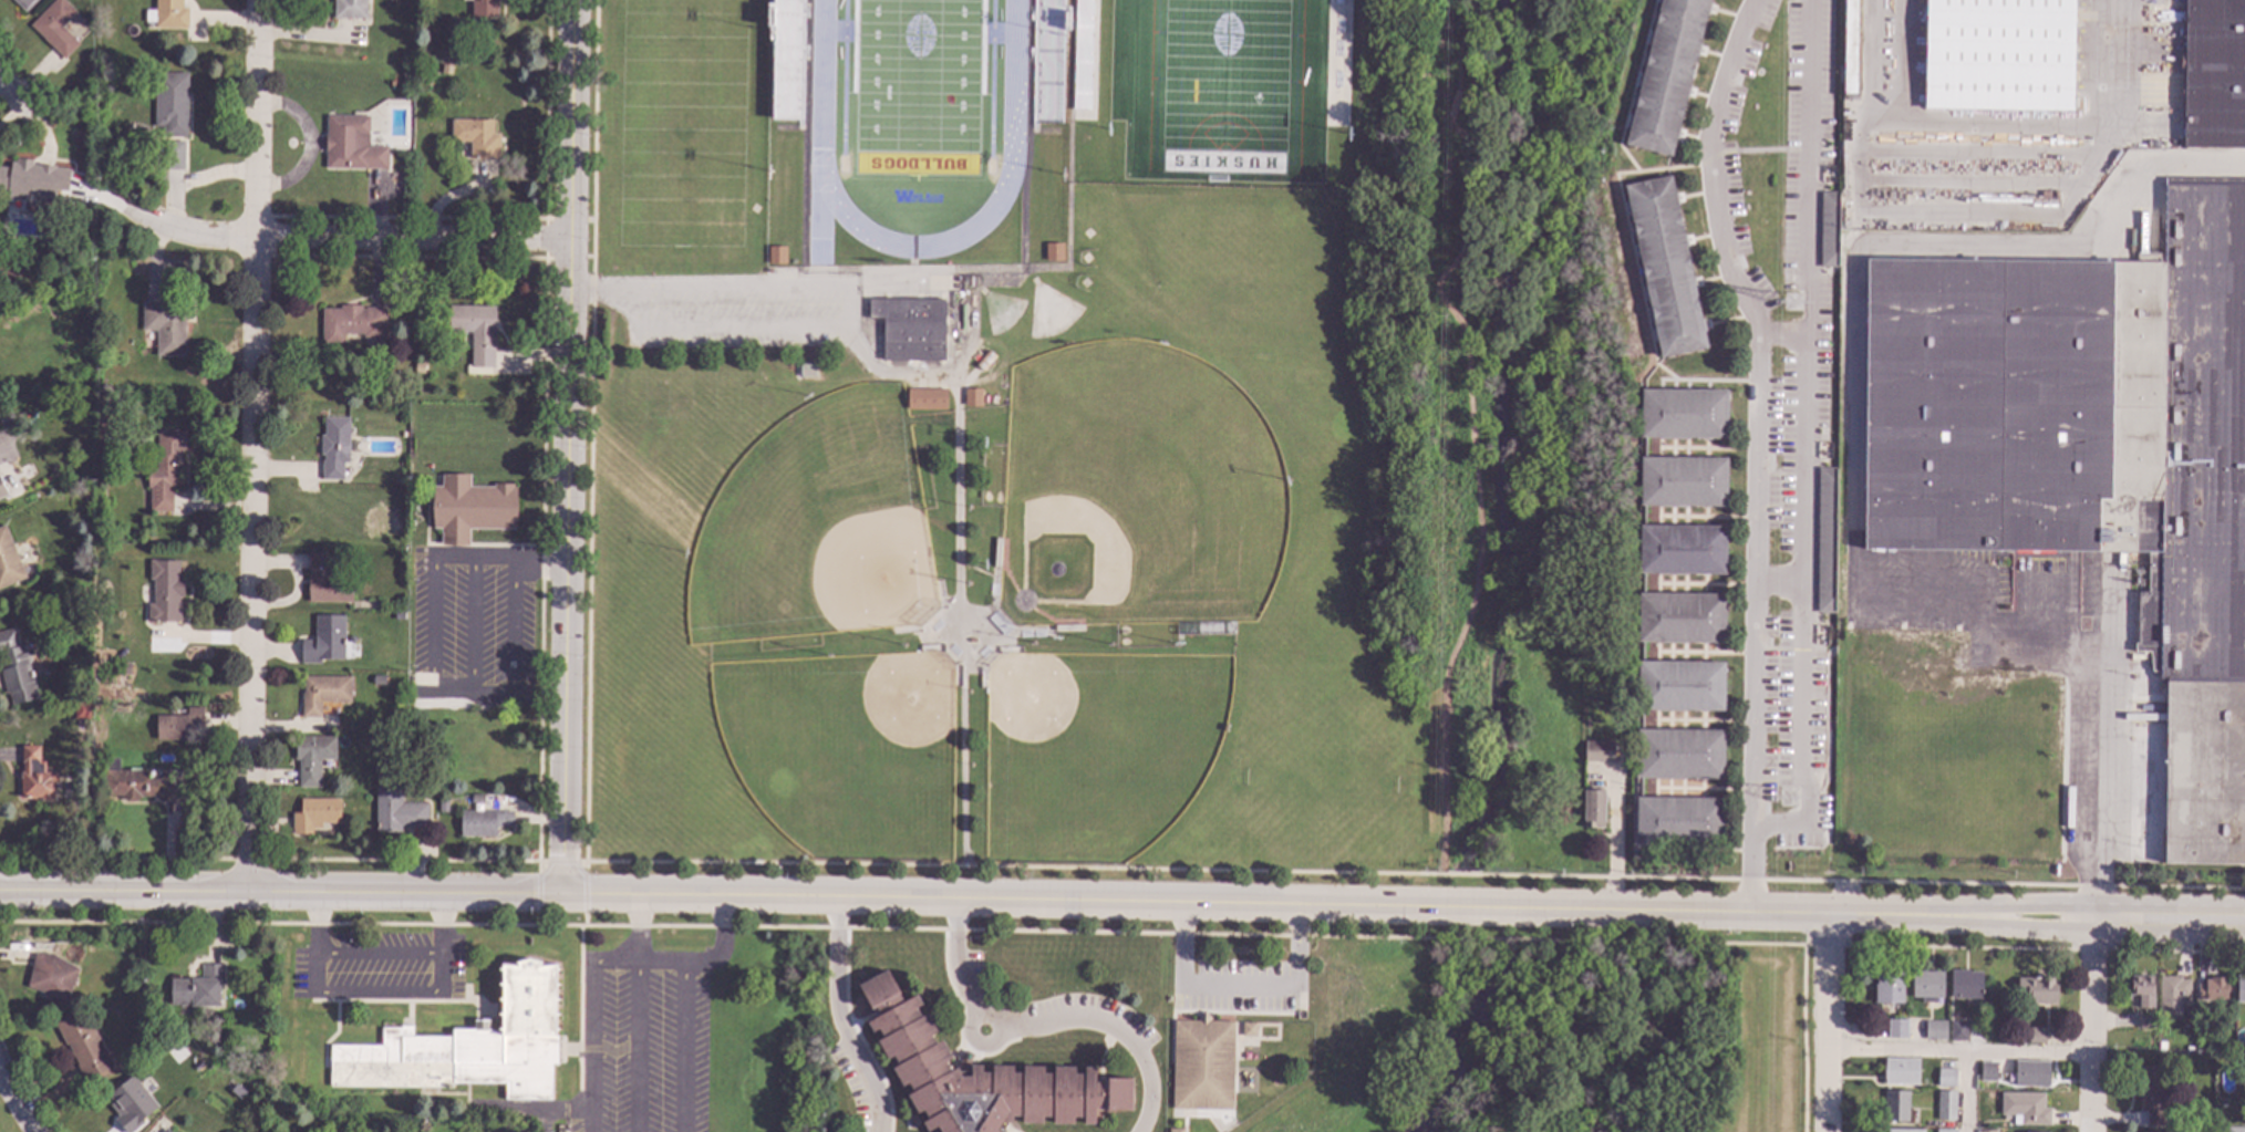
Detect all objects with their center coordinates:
building: (24, 3)
building: (350, 8)
building: (484, 8)
building: (168, 14)
building: (56, 27)
road: (1459, 44)
building: (1850, 45)
building: (1998, 55)
road: (2132, 58)
building: (2214, 74)
building: (1667, 75)
park: (917, 85)
park: (1224, 86)
road: (13, 96)
building: (170, 103)
road: (1453, 106)
park: (683, 123)
building: (131, 125)
building: (477, 137)
building: (352, 144)
road: (309, 146)
building: (175, 155)
building: (35, 180)
building: (1829, 229)
road: (346, 242)
building: (1053, 251)
building: (776, 255)
building: (1665, 267)
road: (599, 293)
power tower: (1794, 303)
park: (1001, 310)
park: (1049, 311)
road: (847, 318)
building: (352, 322)
road: (1850, 323)
building: (166, 325)
building: (911, 328)
building: (476, 334)
road: (1783, 335)
building: (985, 361)
building: (102, 396)
building: (972, 397)
building: (924, 398)
road: (1757, 403)
building: (103, 408)
building: (1683, 413)
building: (4, 416)
building: (403, 434)
road: (1809, 434)
park: (1529, 439)
building: (334, 446)
road: (254, 447)
road: (568, 448)
building: (2089, 453)
road: (1, 454)
building: (165, 469)
building: (1683, 481)
park: (1148, 485)
building: (85, 486)
building: (2, 489)
road: (1477, 490)
building: (470, 508)
park: (831, 522)
building: (1825, 541)
building: (1682, 550)
road: (956, 551)
road: (499, 558)
building: (2088, 558)
building: (9, 560)
road: (25, 581)
building: (327, 581)
road: (1781, 582)
road: (297, 583)
building: (165, 591)
building: (79, 596)
building: (400, 615)
building: (1680, 617)
road: (472, 626)
road: (509, 626)
road: (432, 629)
building: (324, 640)
building: (1537, 647)
building: (1560, 647)
building: (1568, 648)
building: (124, 666)
building: (17, 668)
building: (379, 681)
building: (1545, 682)
building: (1680, 686)
building: (322, 693)
road: (470, 695)
building: (121, 706)
building: (82, 710)
building: (178, 725)
building: (1549, 728)
road: (2094, 736)
building: (395, 742)
park: (1095, 747)
park: (846, 750)
building: (1600, 751)
building: (1679, 754)
building: (312, 757)
building: (37, 775)
building: (142, 785)
power tower: (1789, 798)
building: (442, 806)
building: (1593, 808)
building: (397, 811)
building: (314, 814)
building: (1678, 821)
building: (484, 822)
road: (1615, 844)
road: (559, 861)
road: (1751, 869)
road: (1415, 873)
road: (281, 895)
road: (2019, 902)
road: (2169, 903)
road: (1036, 904)
road: (1729, 915)
road: (317, 925)
road: (443, 926)
road: (2019, 926)
road: (638, 931)
road: (2169, 931)
road: (686, 962)
building: (46, 969)
road: (1239, 983)
building: (1965, 984)
building: (1926, 985)
building: (1889, 987)
building: (199, 988)
building: (2212, 988)
building: (2038, 989)
building: (2241, 989)
building: (2143, 990)
road: (317, 996)
building: (2171, 996)
road: (2092, 1016)
road: (840, 1019)
road: (1043, 1021)
building: (2146, 1021)
road: (1828, 1024)
building: (1978, 1024)
building: (1896, 1028)
building: (1248, 1029)
building: (1935, 1030)
building: (1957, 1030)
building: (2036, 1035)
building: (83, 1043)
building: (469, 1046)
building: (2161, 1046)
road: (685, 1047)
road: (593, 1048)
road: (638, 1048)
road: (1959, 1051)
building: (1245, 1056)
building: (1252, 1057)
building: (1202, 1063)
building: (1988, 1070)
building: (1901, 1071)
building: (2244, 1071)
park: (23, 1073)
building: (2031, 1073)
building: (979, 1076)
building: (1946, 1078)
building: (228, 1084)
road: (1963, 1092)
building: (2151, 1097)
road: (12, 1101)
building: (131, 1103)
building: (1945, 1104)
building: (1895, 1107)
building: (2025, 1108)
building: (165, 1130)
building: (1175, 1130)
building: (1903, 1130)
building: (1946, 1130)
building: (2235, 1130)
building: (1986, 1131)

